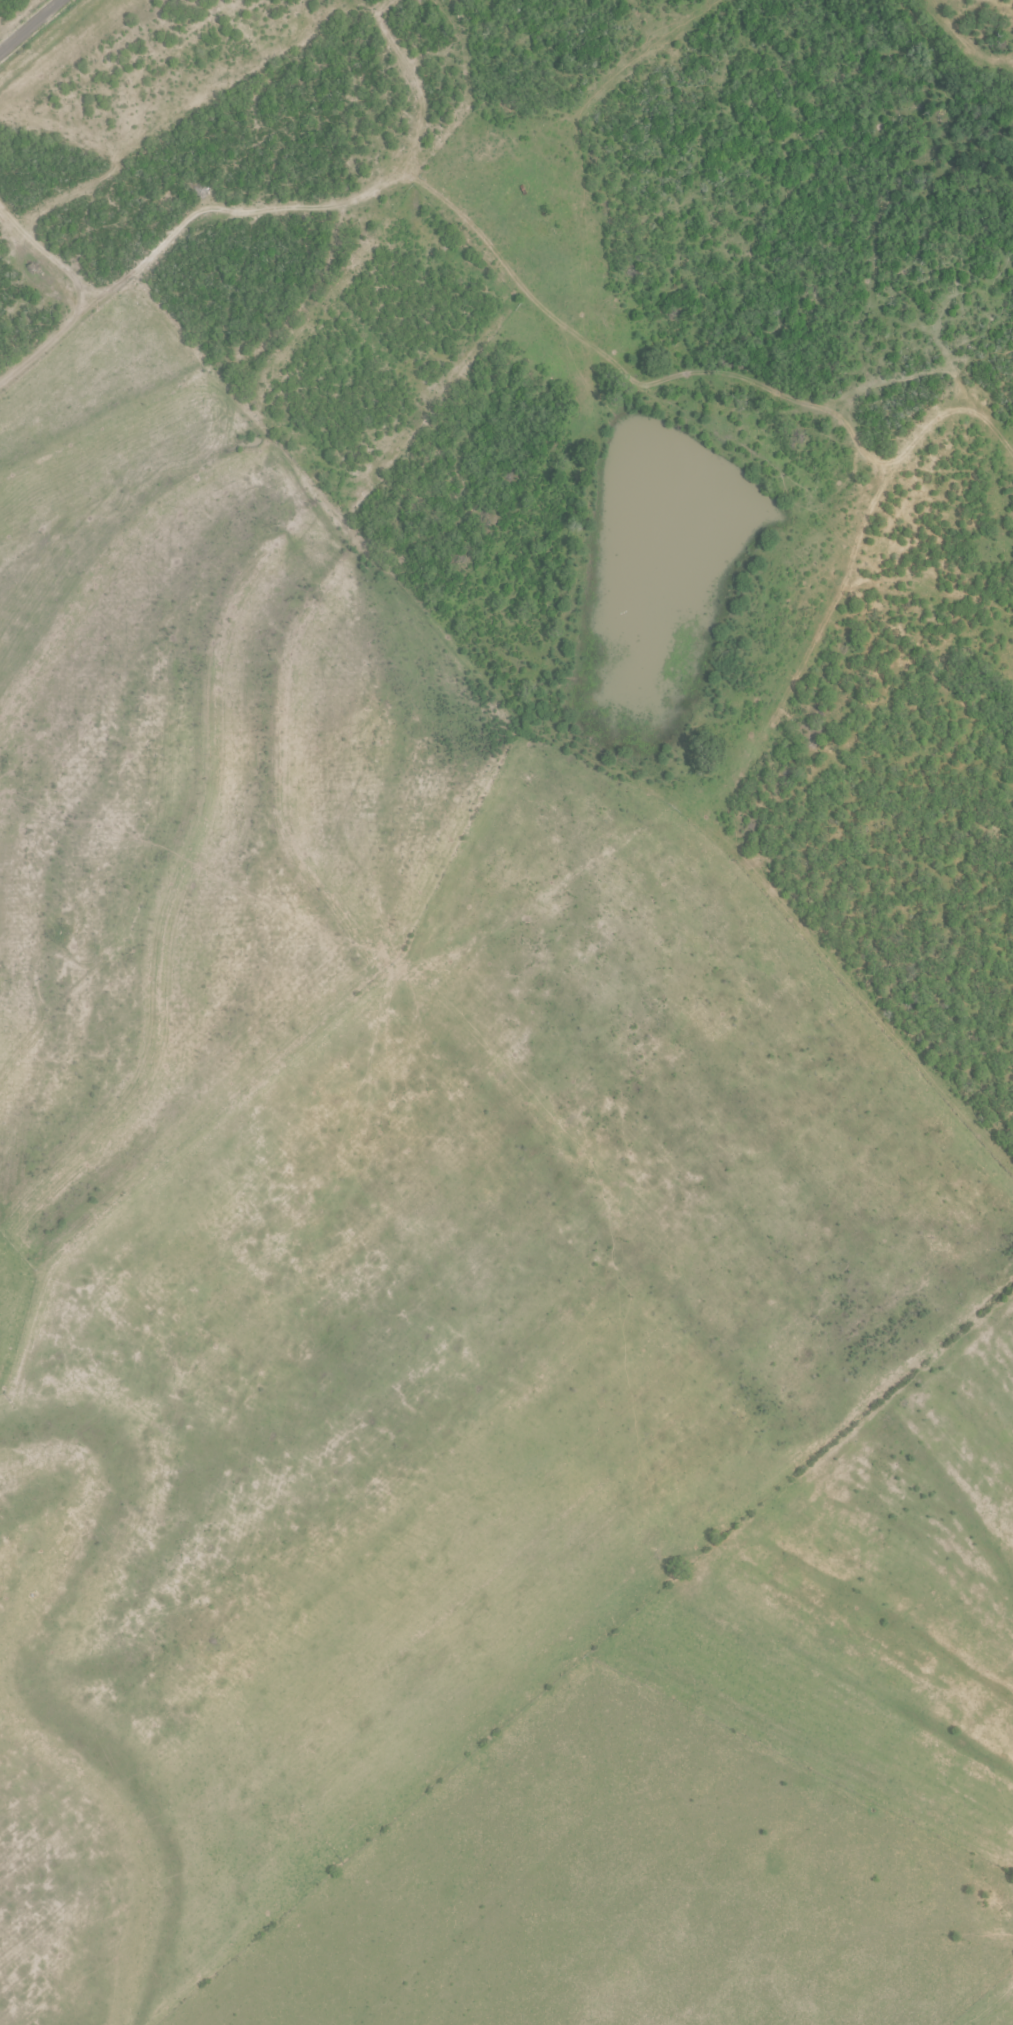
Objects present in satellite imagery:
road: (46, 39)

